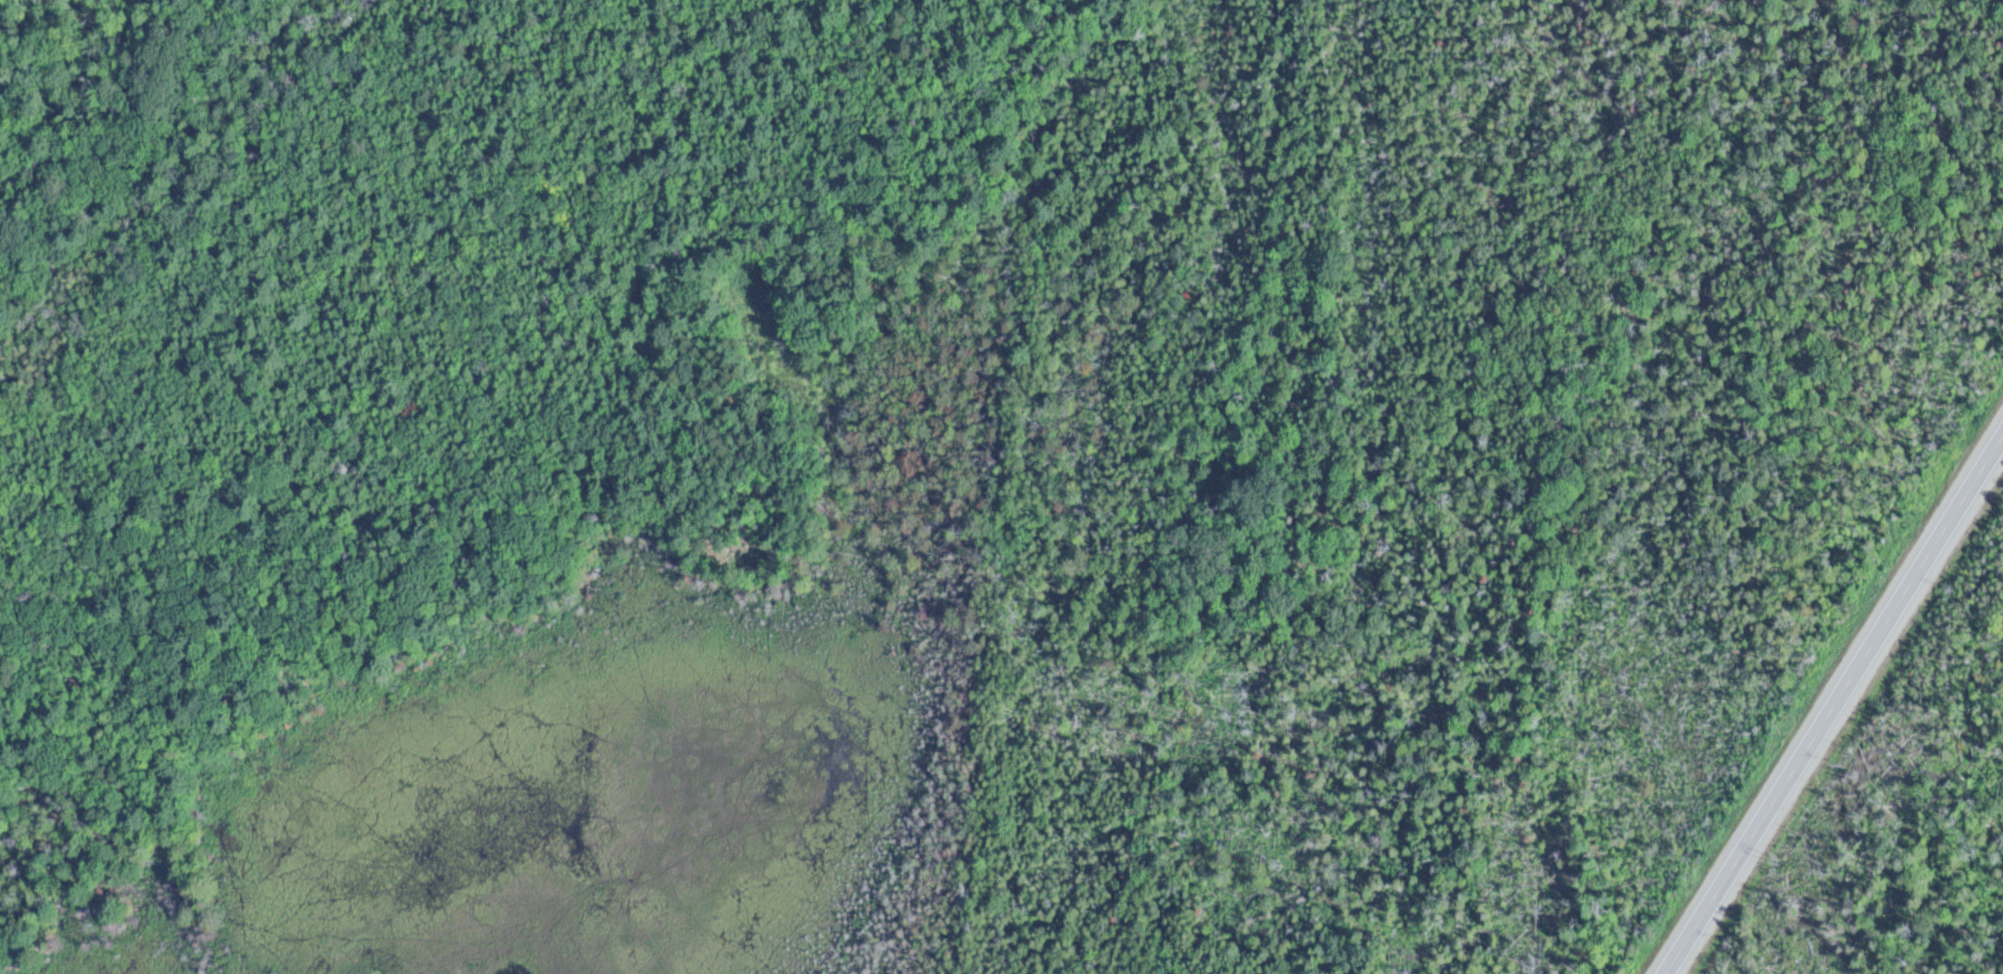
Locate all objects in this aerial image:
road: (1838, 710)

